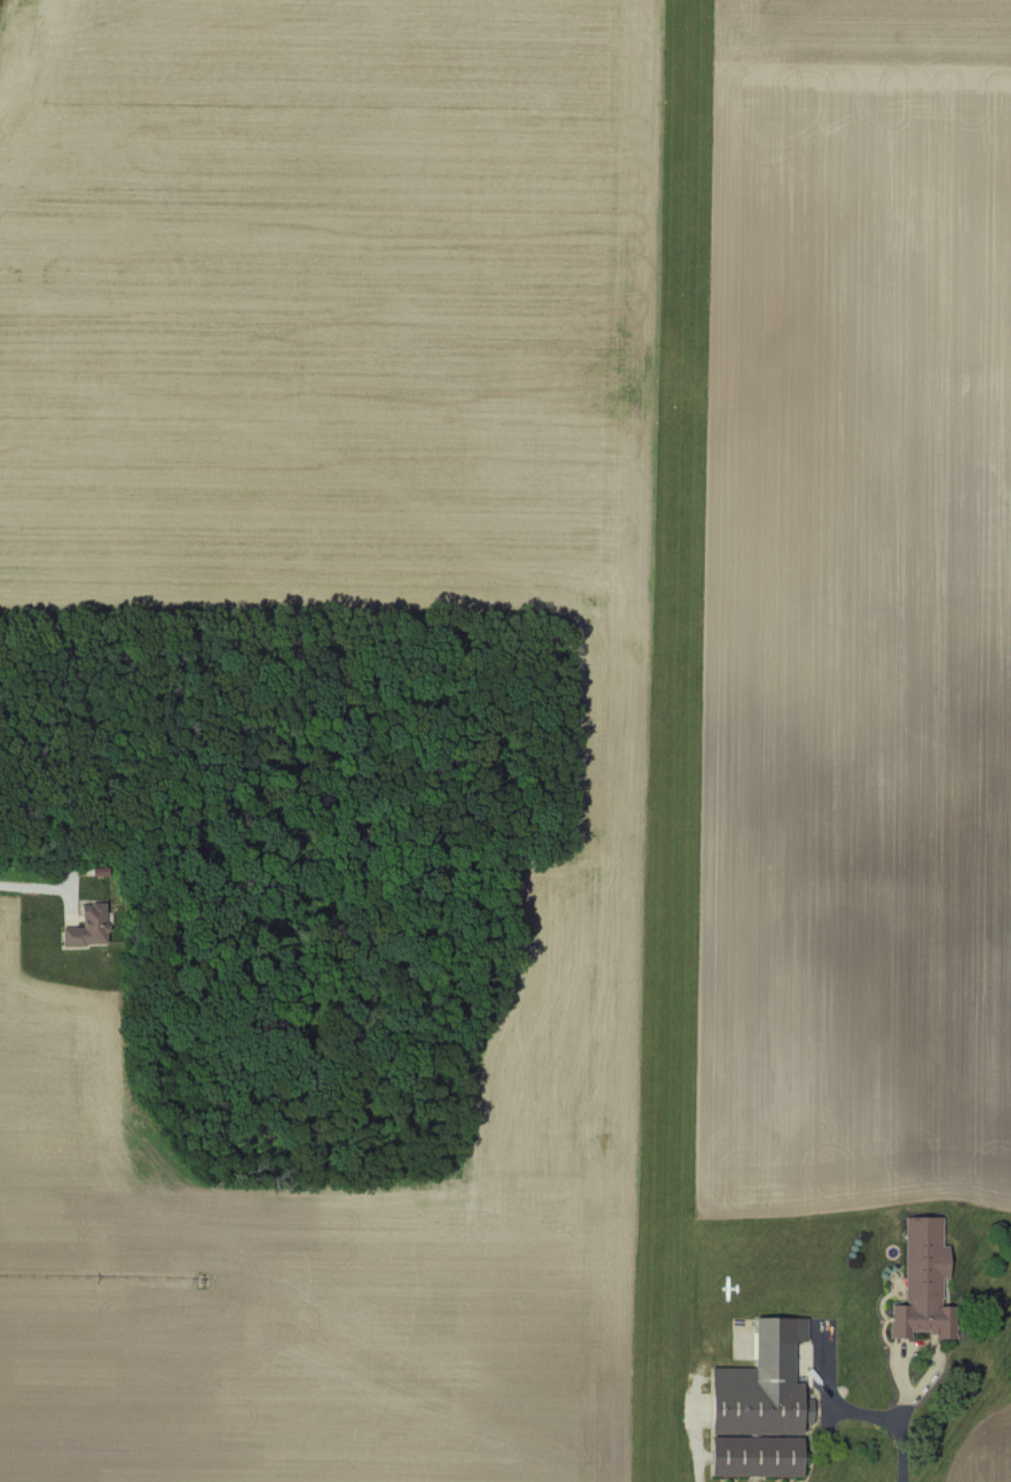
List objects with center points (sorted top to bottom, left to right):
road: (28, 889)
building: (86, 928)
building: (922, 1279)
building: (758, 1403)
road: (905, 1423)
road: (702, 1458)

